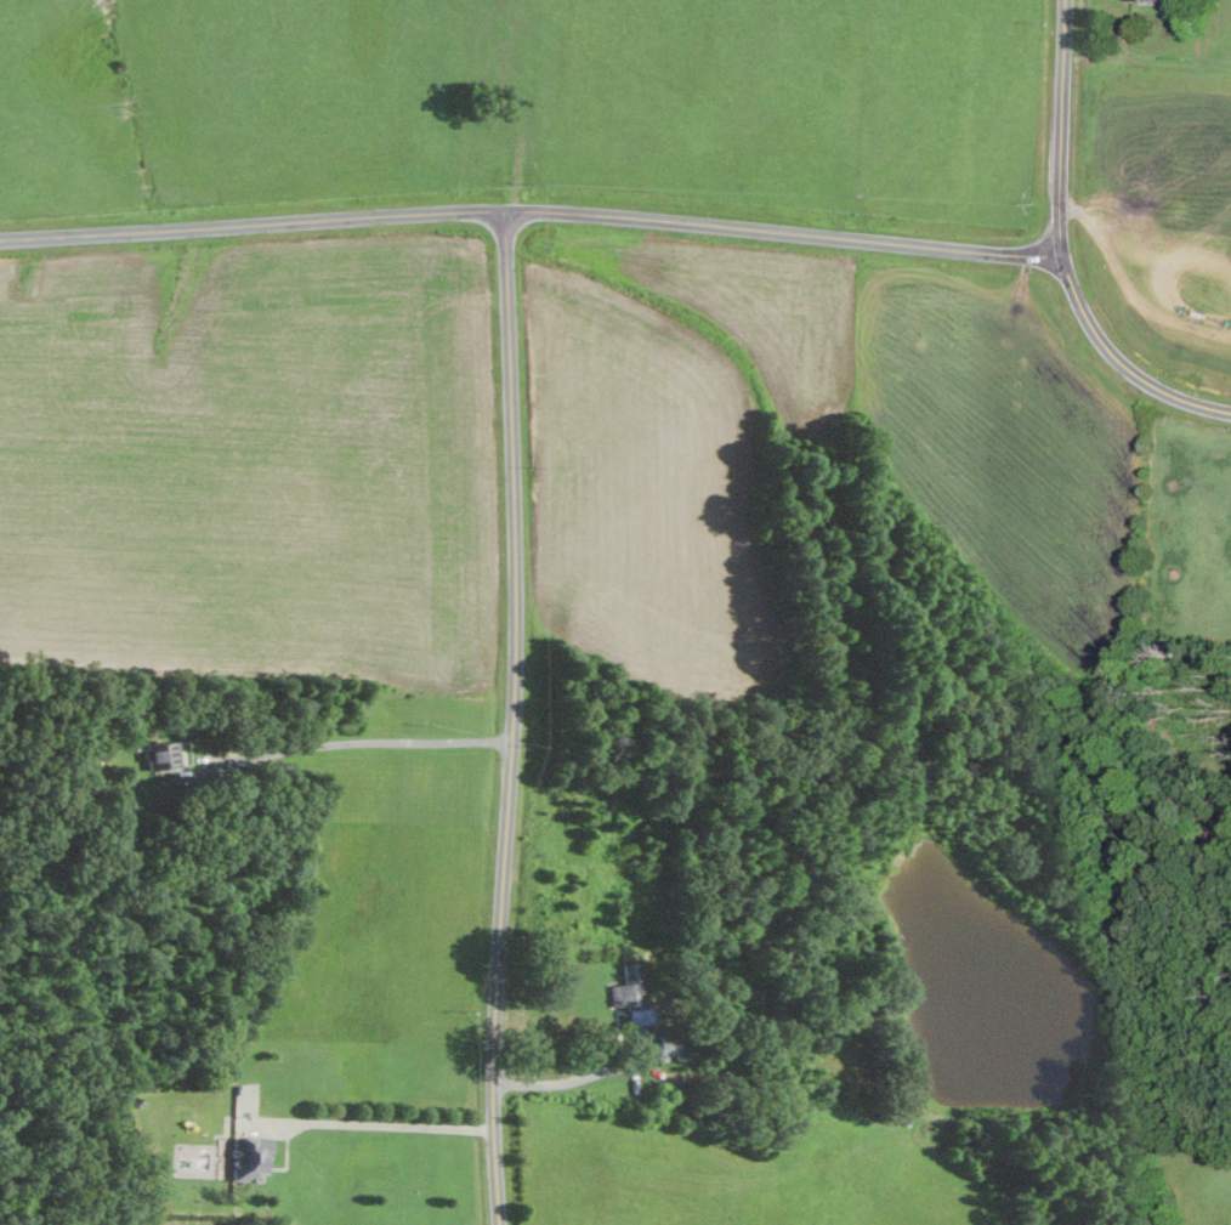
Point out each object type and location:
road: (1066, 131)
road: (253, 226)
road: (782, 232)
road: (1111, 373)
road: (514, 720)
road: (353, 742)
road: (569, 1083)
road: (382, 1124)
building: (254, 1157)

